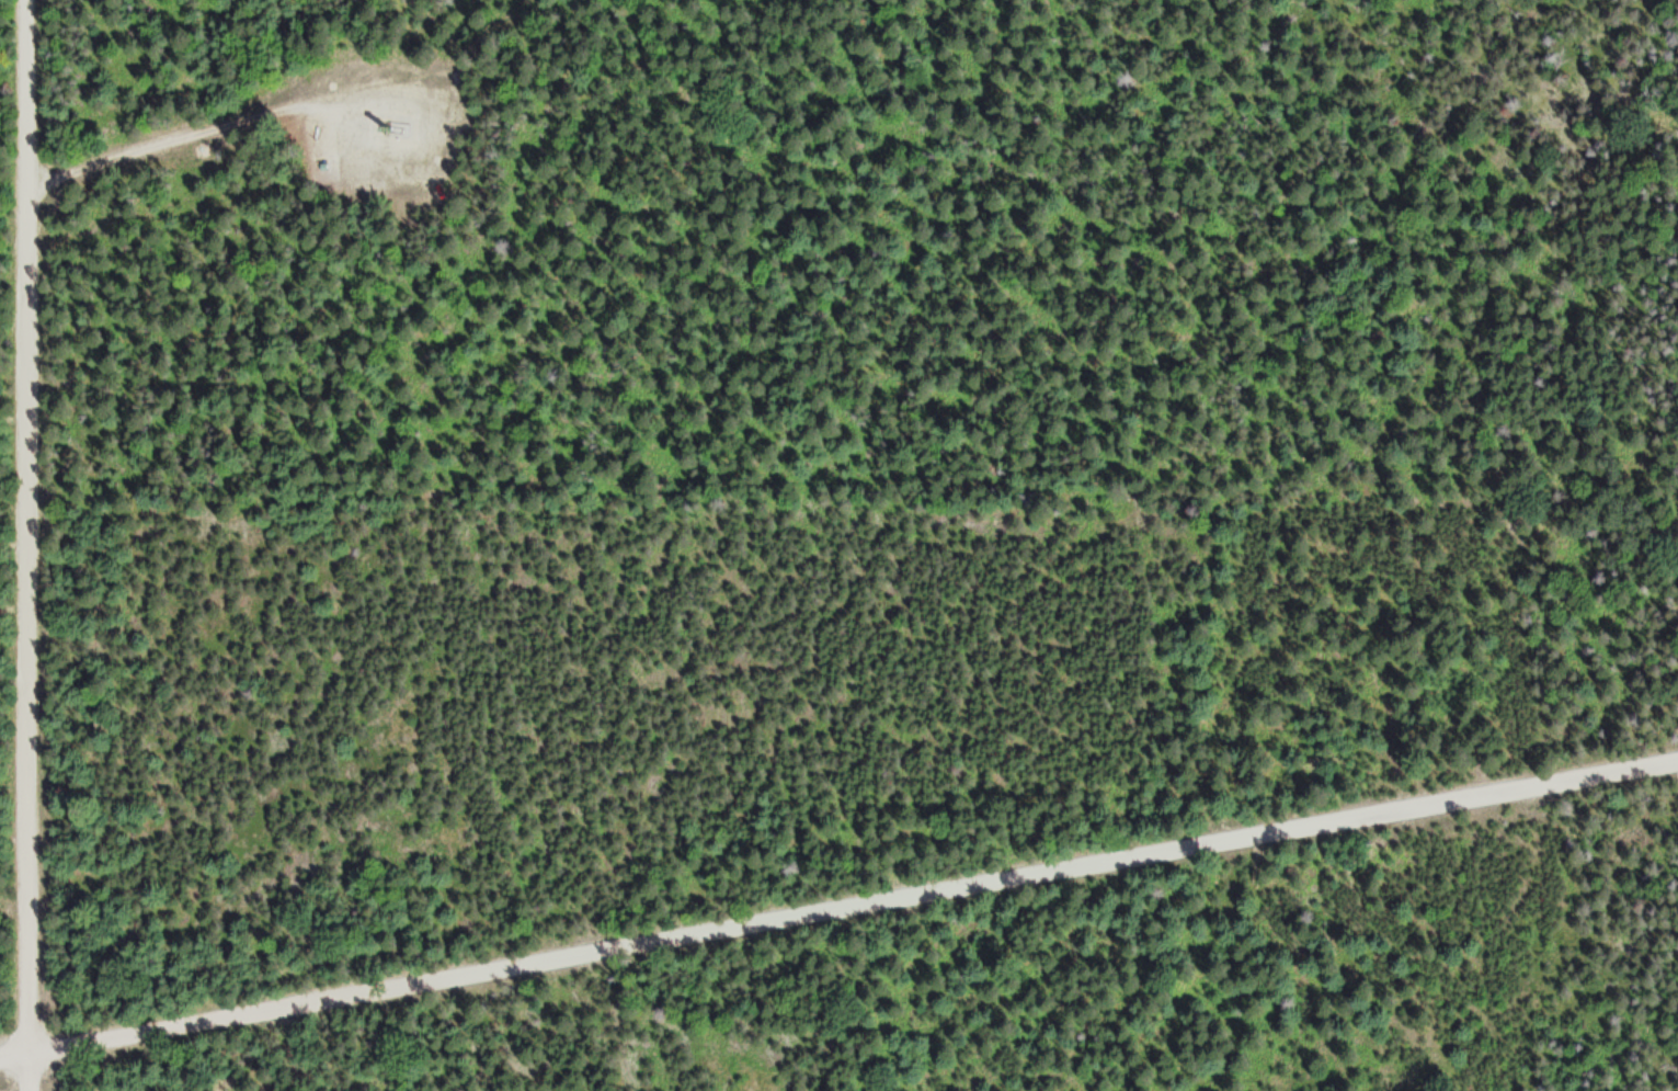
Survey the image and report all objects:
road: (324, 105)
petroleum well: (388, 117)
road: (31, 545)
road: (838, 909)

